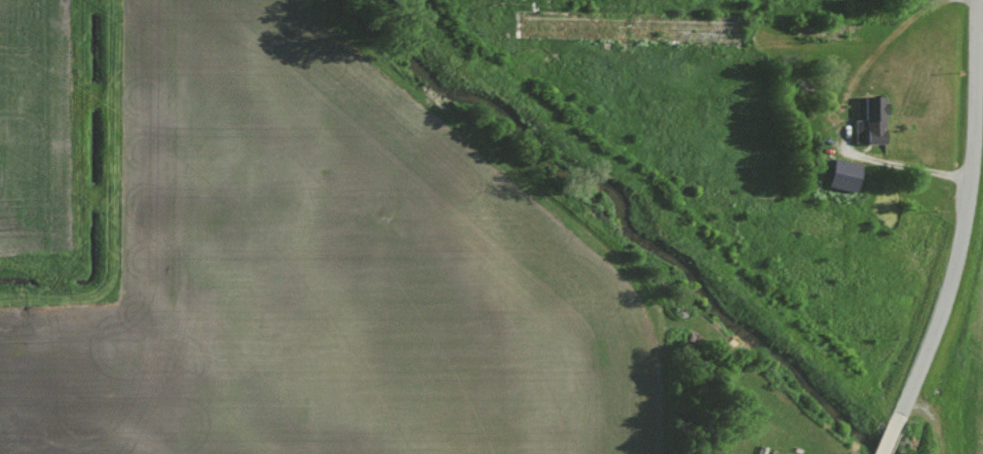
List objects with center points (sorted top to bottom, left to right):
building: (695, 27)
road: (845, 116)
building: (873, 119)
road: (959, 233)

